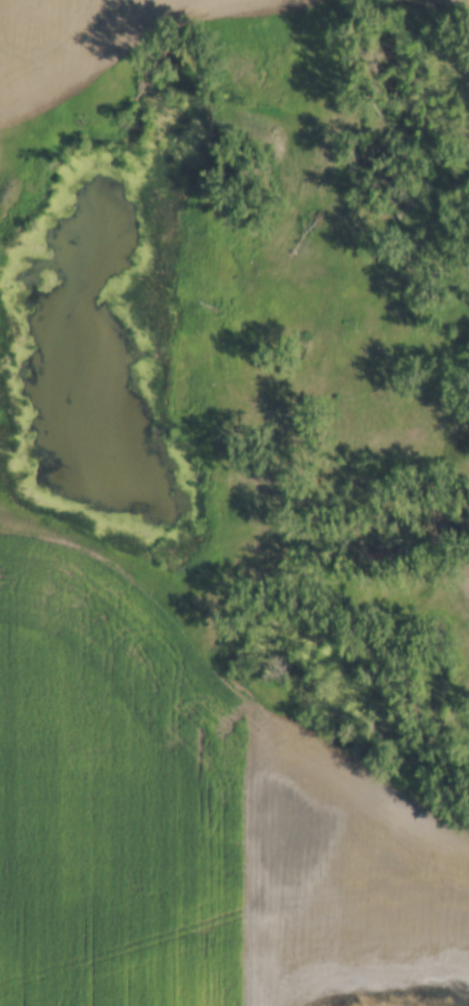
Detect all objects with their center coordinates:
road: (130, 719)

